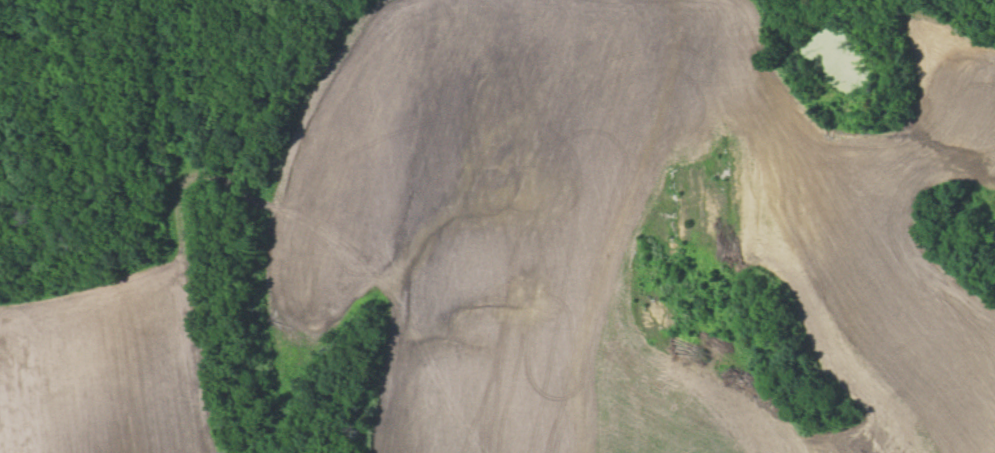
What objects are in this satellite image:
crop: (617, 225)
crop: (115, 355)

